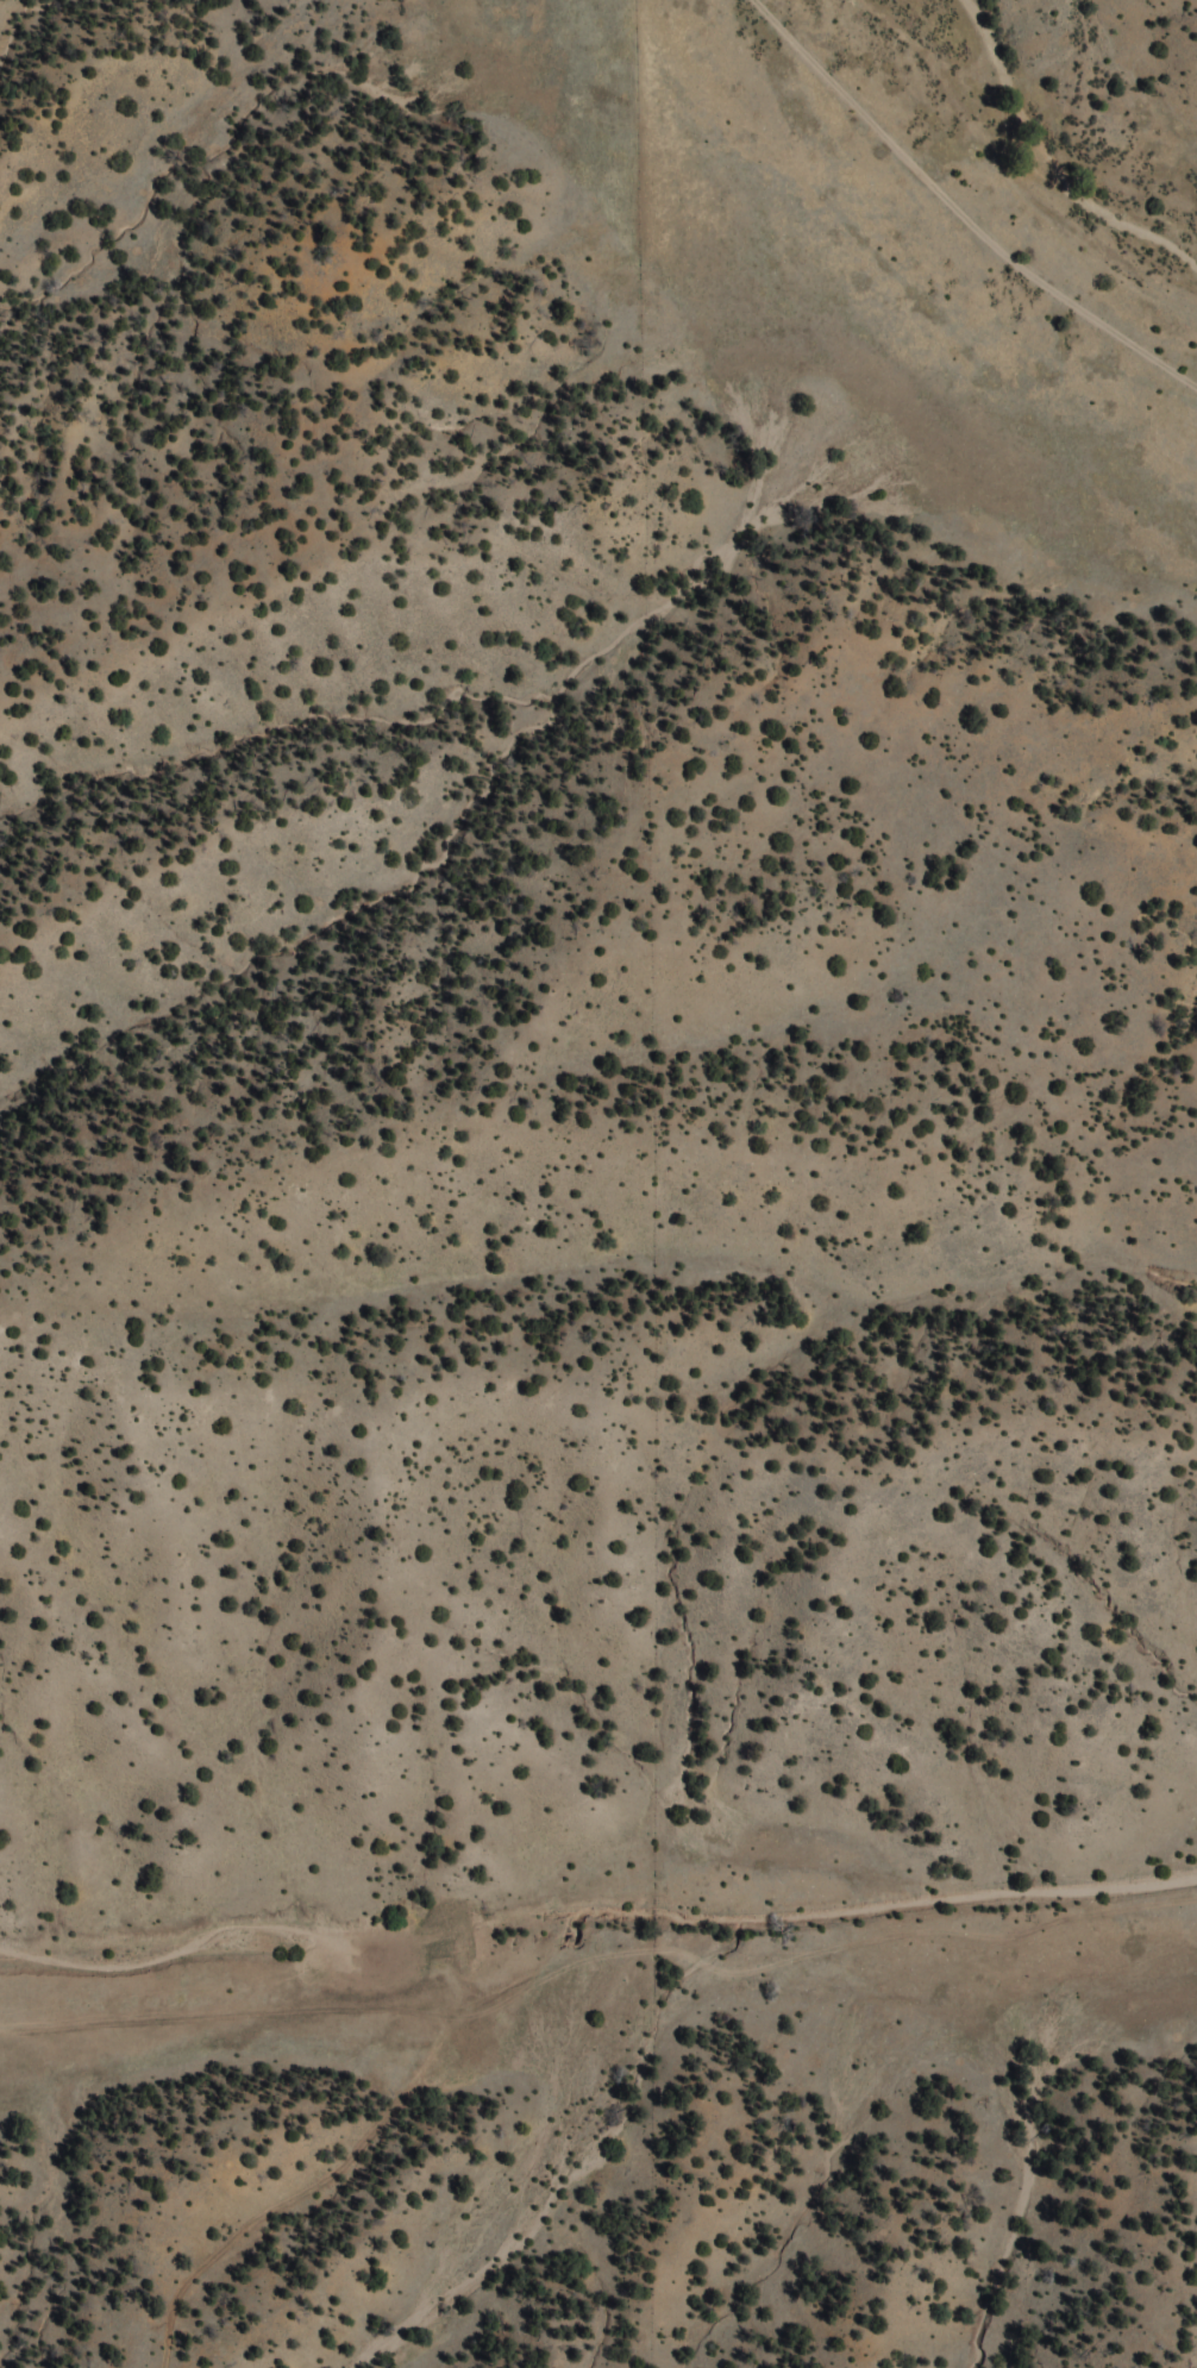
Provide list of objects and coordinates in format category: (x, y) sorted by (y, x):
road: (958, 214)
dam: (463, 1940)
road: (608, 1956)
road: (302, 2188)

